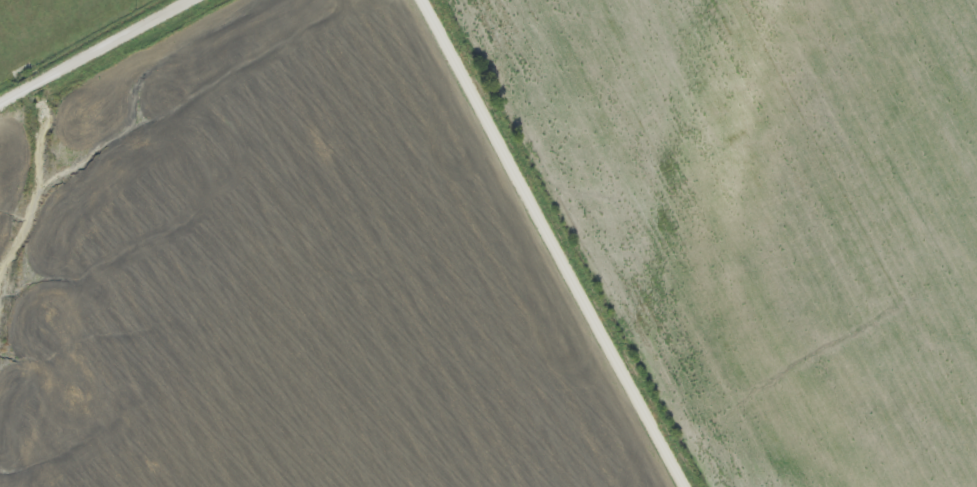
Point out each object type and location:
road: (101, 53)
road: (552, 243)

